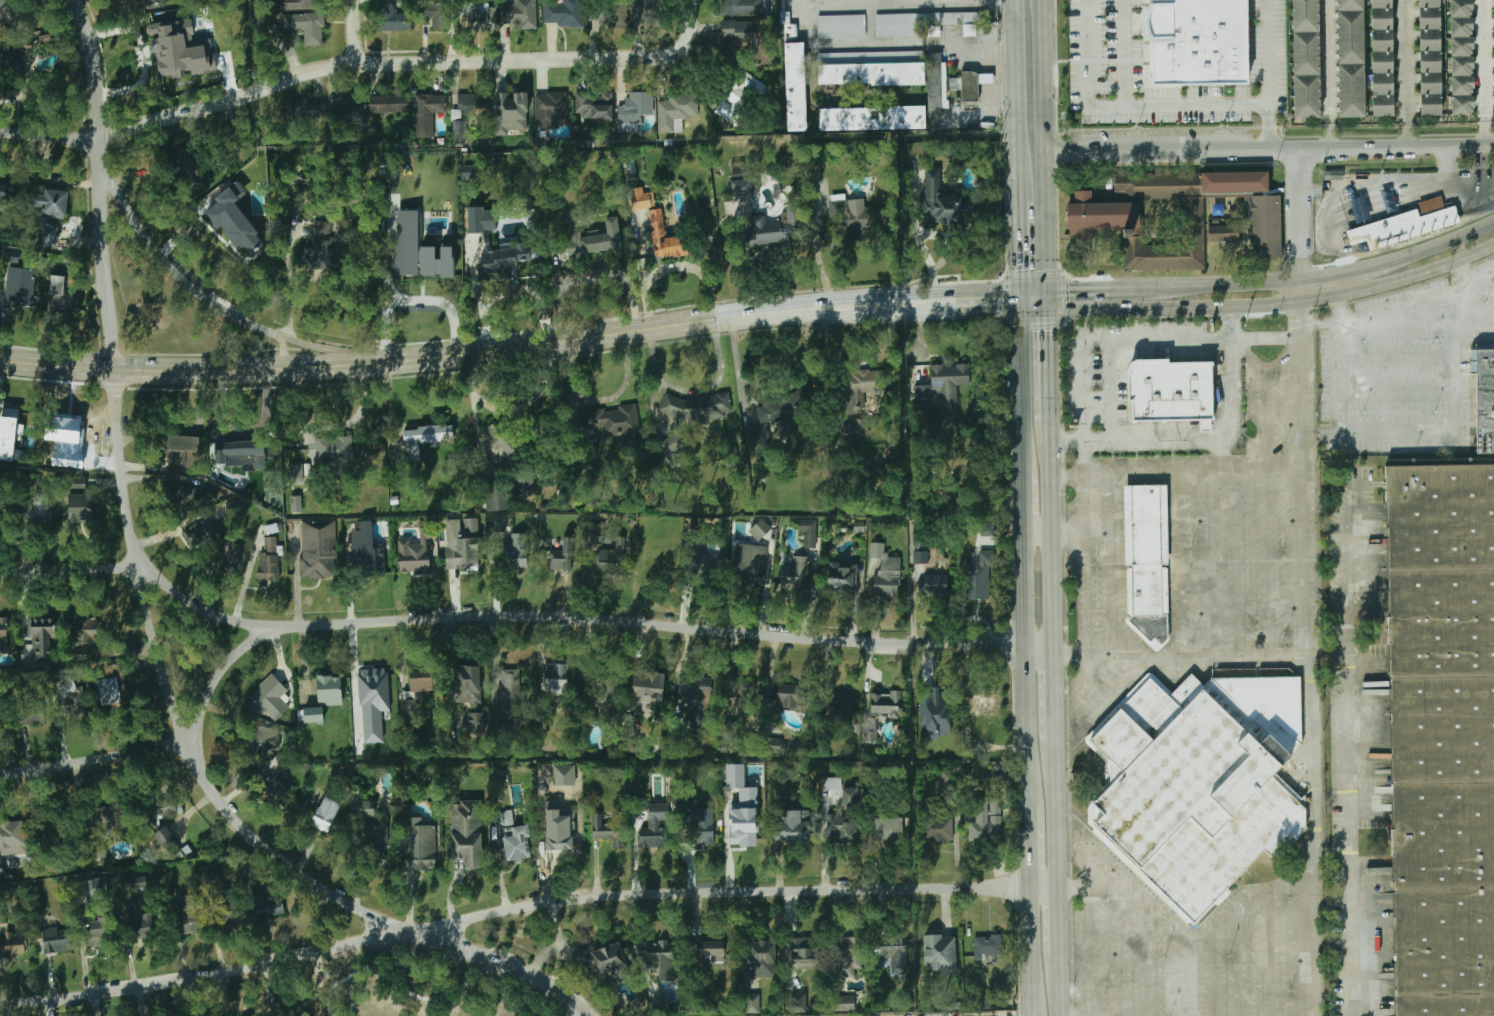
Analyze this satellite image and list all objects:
building: (833, 0)
building: (153, 2)
building: (1428, 3)
building: (292, 4)
building: (1380, 4)
road: (909, 5)
building: (1348, 5)
building: (741, 7)
building: (1461, 9)
building: (10, 10)
building: (438, 11)
building: (646, 12)
building: (566, 13)
building: (614, 13)
building: (521, 14)
building: (479, 16)
building: (1304, 16)
building: (393, 18)
building: (1380, 18)
building: (1428, 18)
building: (925, 23)
road: (871, 25)
building: (306, 26)
building: (842, 26)
building: (1462, 28)
building: (272, 30)
building: (744, 31)
building: (791, 32)
road: (354, 33)
building: (48, 38)
building: (1349, 38)
building: (1201, 40)
building: (1381, 40)
building: (1428, 40)
road: (872, 44)
building: (1462, 47)
building: (181, 49)
road: (1124, 52)
building: (1305, 54)
building: (21, 57)
road: (546, 61)
road: (1407, 61)
building: (1428, 61)
building: (1381, 62)
building: (1462, 66)
building: (870, 67)
road: (1486, 71)
road: (1330, 73)
road: (1267, 74)
building: (985, 80)
building: (937, 82)
building: (1429, 83)
building: (1381, 84)
building: (1462, 85)
building: (796, 87)
building: (965, 87)
building: (1349, 91)
building: (18, 93)
building: (738, 96)
building: (1305, 97)
road: (1016, 99)
road: (227, 102)
building: (433, 103)
road: (1125, 103)
building: (388, 104)
building: (1381, 105)
building: (1429, 105)
building: (1462, 105)
building: (594, 106)
building: (512, 109)
building: (637, 109)
building: (551, 110)
building: (468, 111)
building: (349, 112)
building: (675, 112)
building: (870, 118)
building: (301, 120)
road: (1408, 133)
road: (49, 135)
road: (1491, 142)
road: (1046, 145)
road: (1267, 148)
building: (184, 164)
building: (1332, 177)
building: (195, 180)
building: (333, 182)
road: (99, 183)
building: (741, 187)
building: (5, 192)
building: (642, 199)
building: (943, 201)
building: (51, 203)
building: (859, 216)
building: (233, 217)
building: (1103, 217)
building: (479, 221)
road: (1302, 224)
building: (1403, 224)
building: (1266, 228)
building: (763, 230)
building: (1223, 234)
building: (49, 236)
building: (666, 238)
building: (598, 239)
building: (324, 242)
building: (406, 242)
road: (1440, 243)
road: (1019, 244)
road: (816, 251)
building: (506, 258)
building: (437, 262)
traffic signals: (1020, 266)
road: (674, 267)
road: (175, 268)
road: (1343, 272)
road: (594, 277)
road: (1216, 284)
building: (20, 287)
road: (510, 288)
road: (1035, 289)
road: (1090, 289)
traffic signals: (1072, 290)
road: (920, 294)
building: (57, 297)
road: (1021, 299)
road: (1049, 299)
road: (422, 300)
road: (1276, 302)
road: (797, 306)
road: (1036, 309)
road: (988, 311)
traffic signals: (999, 311)
road: (798, 313)
road: (887, 314)
traffic signals: (1050, 326)
road: (1267, 338)
road: (1105, 340)
road: (331, 349)
road: (283, 352)
road: (387, 362)
road: (1050, 364)
road: (738, 367)
building: (864, 381)
road: (1022, 381)
building: (944, 383)
road: (693, 391)
road: (1111, 391)
building: (1172, 391)
building: (1484, 398)
building: (697, 408)
building: (771, 417)
building: (606, 421)
building: (1208, 425)
building: (859, 427)
road: (188, 430)
building: (6, 432)
building: (426, 437)
building: (64, 438)
building: (503, 439)
road: (1207, 440)
building: (671, 443)
building: (334, 449)
road: (1223, 452)
building: (237, 453)
building: (183, 456)
road: (1116, 468)
building: (295, 473)
road: (1083, 477)
building: (524, 479)
road: (1304, 480)
building: (29, 481)
building: (78, 483)
road: (1023, 495)
building: (184, 497)
building: (494, 498)
building: (296, 504)
building: (38, 506)
building: (78, 509)
building: (498, 524)
building: (760, 529)
building: (200, 531)
building: (809, 532)
building: (597, 533)
road: (1070, 535)
road: (1039, 536)
road: (1055, 538)
building: (509, 549)
road: (1086, 549)
building: (316, 550)
building: (367, 554)
building: (229, 555)
building: (564, 556)
building: (412, 557)
building: (921, 557)
building: (270, 558)
building: (1150, 558)
building: (463, 560)
building: (612, 560)
building: (751, 564)
road: (146, 570)
building: (797, 575)
building: (842, 577)
building: (978, 578)
building: (887, 579)
building: (934, 585)
road: (499, 617)
building: (3, 631)
building: (85, 631)
building: (42, 636)
road: (1026, 665)
building: (604, 677)
building: (556, 679)
building: (373, 682)
building: (467, 682)
building: (420, 685)
building: (648, 686)
building: (512, 687)
building: (109, 691)
building: (747, 693)
building: (69, 695)
building: (323, 696)
building: (791, 696)
building: (272, 697)
road: (1058, 700)
building: (839, 703)
building: (885, 704)
building: (934, 706)
building: (698, 707)
building: (30, 713)
road: (1315, 713)
building: (365, 727)
building: (727, 732)
building: (1443, 736)
building: (260, 741)
road: (1349, 751)
building: (1202, 780)
building: (832, 783)
building: (946, 784)
building: (274, 788)
road: (217, 794)
building: (161, 814)
building: (325, 814)
road: (1059, 814)
building: (107, 815)
building: (503, 818)
building: (984, 818)
building: (791, 824)
building: (698, 827)
building: (746, 827)
building: (606, 828)
building: (843, 828)
building: (374, 829)
building: (891, 829)
building: (938, 829)
building: (10, 834)
building: (654, 837)
building: (562, 839)
road: (1030, 839)
building: (516, 844)
building: (420, 848)
building: (100, 849)
building: (466, 850)
building: (1, 869)
building: (100, 887)
building: (267, 904)
building: (225, 907)
road: (525, 908)
building: (186, 919)
road: (1060, 919)
building: (137, 920)
building: (97, 933)
building: (56, 939)
road: (1183, 943)
building: (12, 944)
building: (940, 947)
building: (710, 948)
building: (989, 948)
building: (803, 950)
building: (848, 950)
road: (1032, 951)
building: (660, 958)
building: (762, 958)
building: (895, 958)
building: (717, 959)
building: (605, 961)
road: (1178, 980)
road: (1061, 985)
building: (984, 1001)
building: (753, 1003)
building: (799, 1003)
building: (661, 1004)
building: (845, 1004)
building: (286, 1012)
building: (253, 1015)

